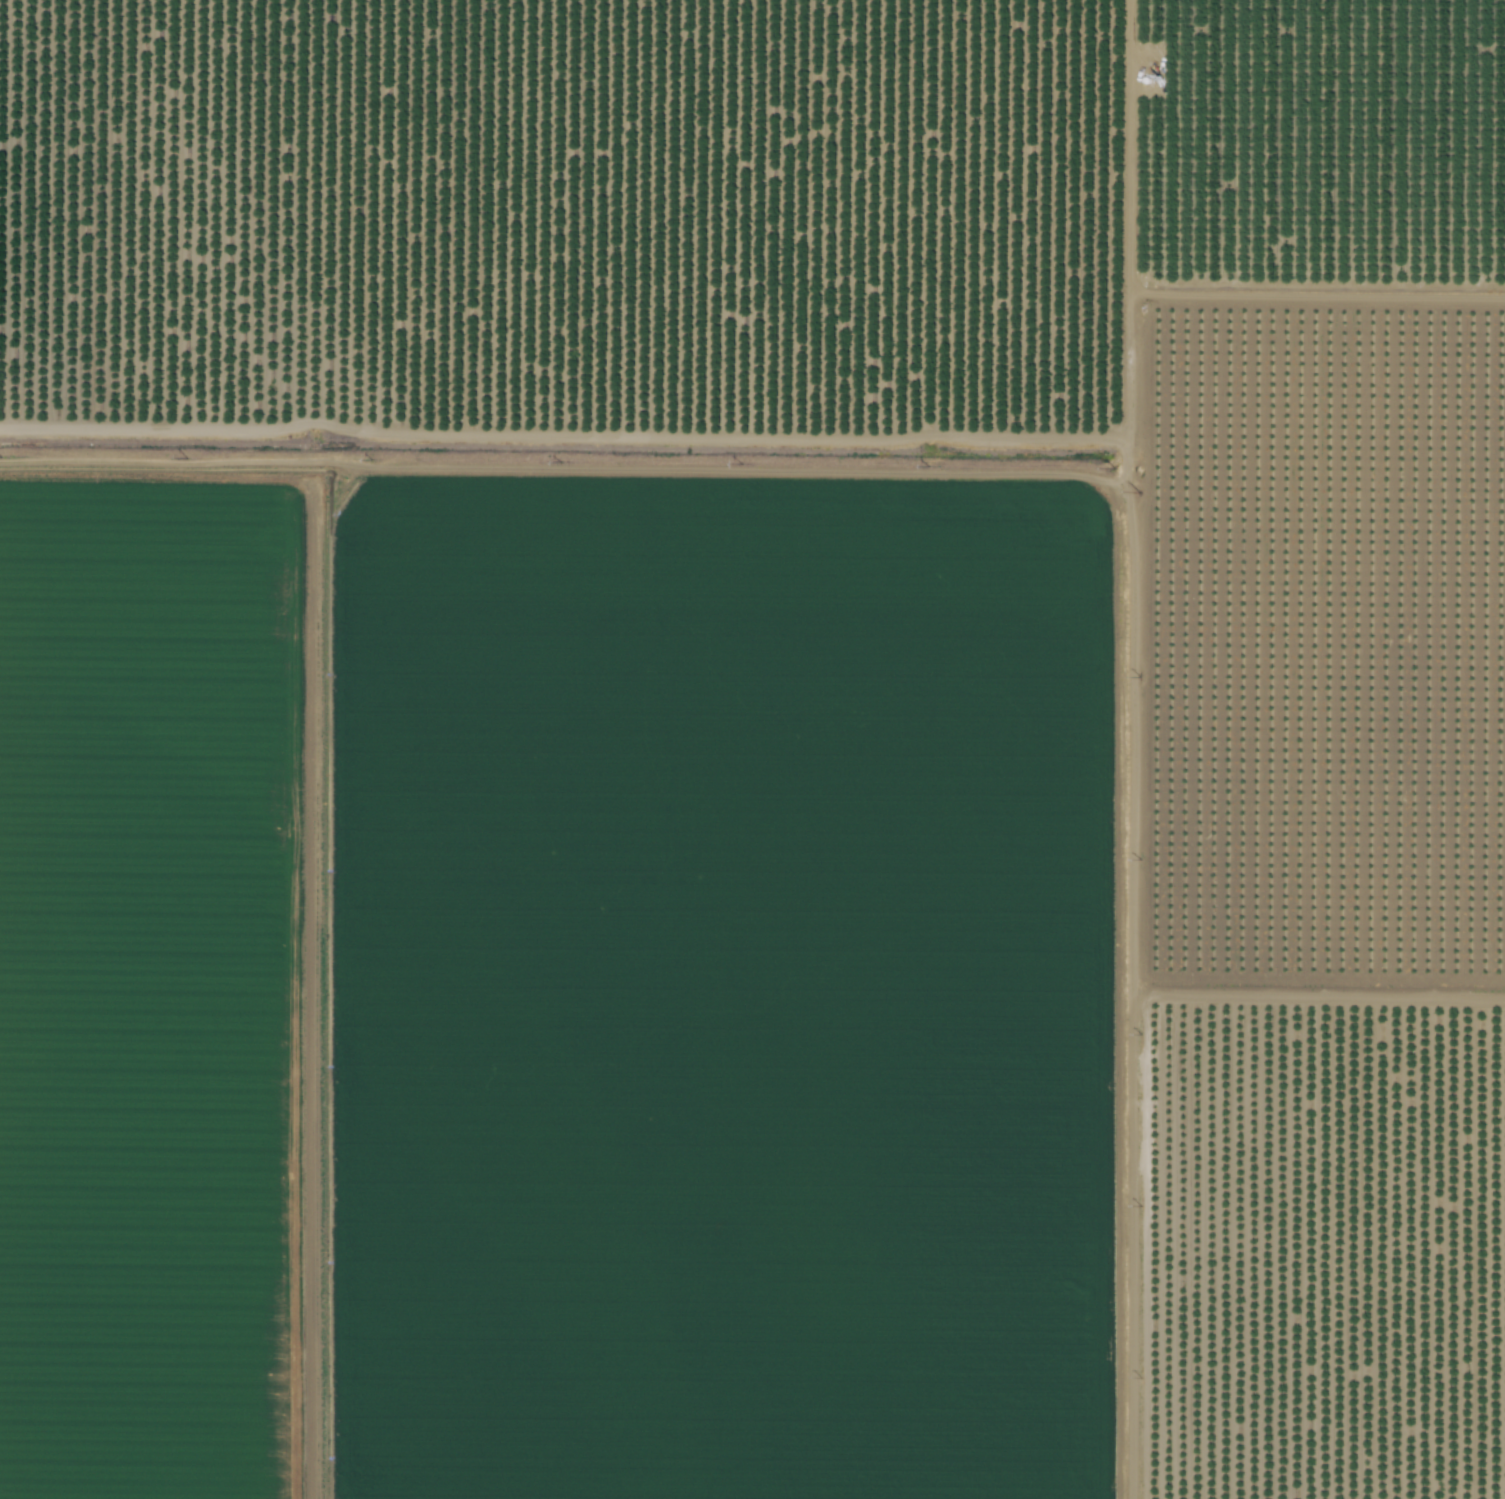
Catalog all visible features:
road: (1128, 181)
road: (834, 477)

